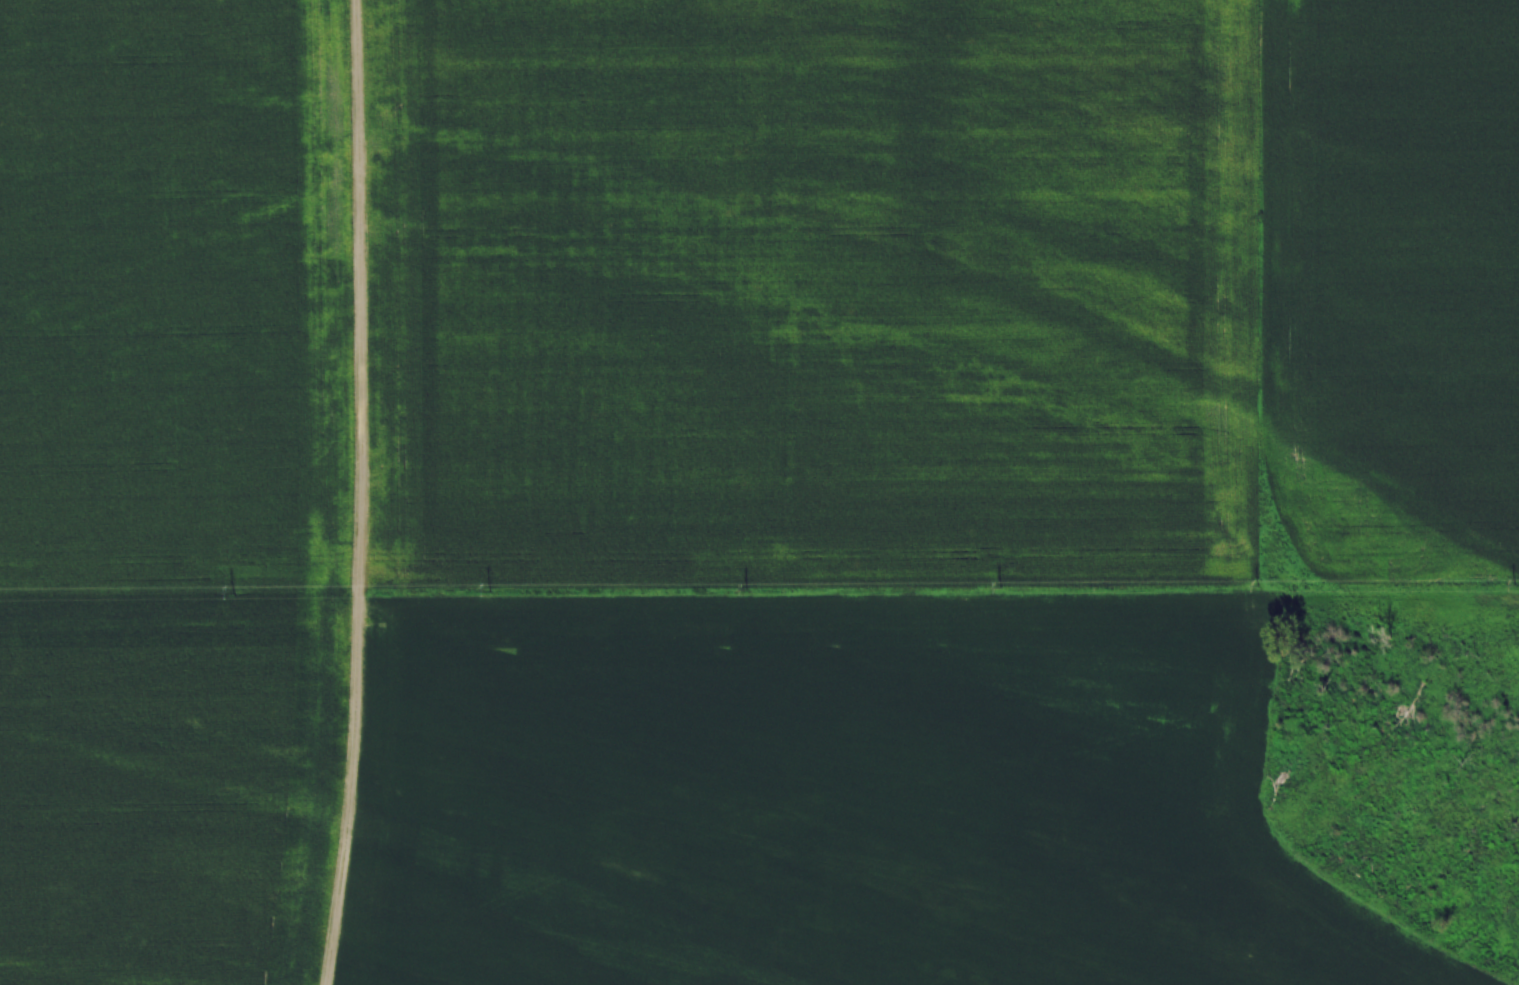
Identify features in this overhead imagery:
power tower: (1515, 585)
power tower: (1257, 586)
power tower: (1003, 587)
power tower: (750, 589)
power tower: (491, 590)
power tower: (235, 592)

